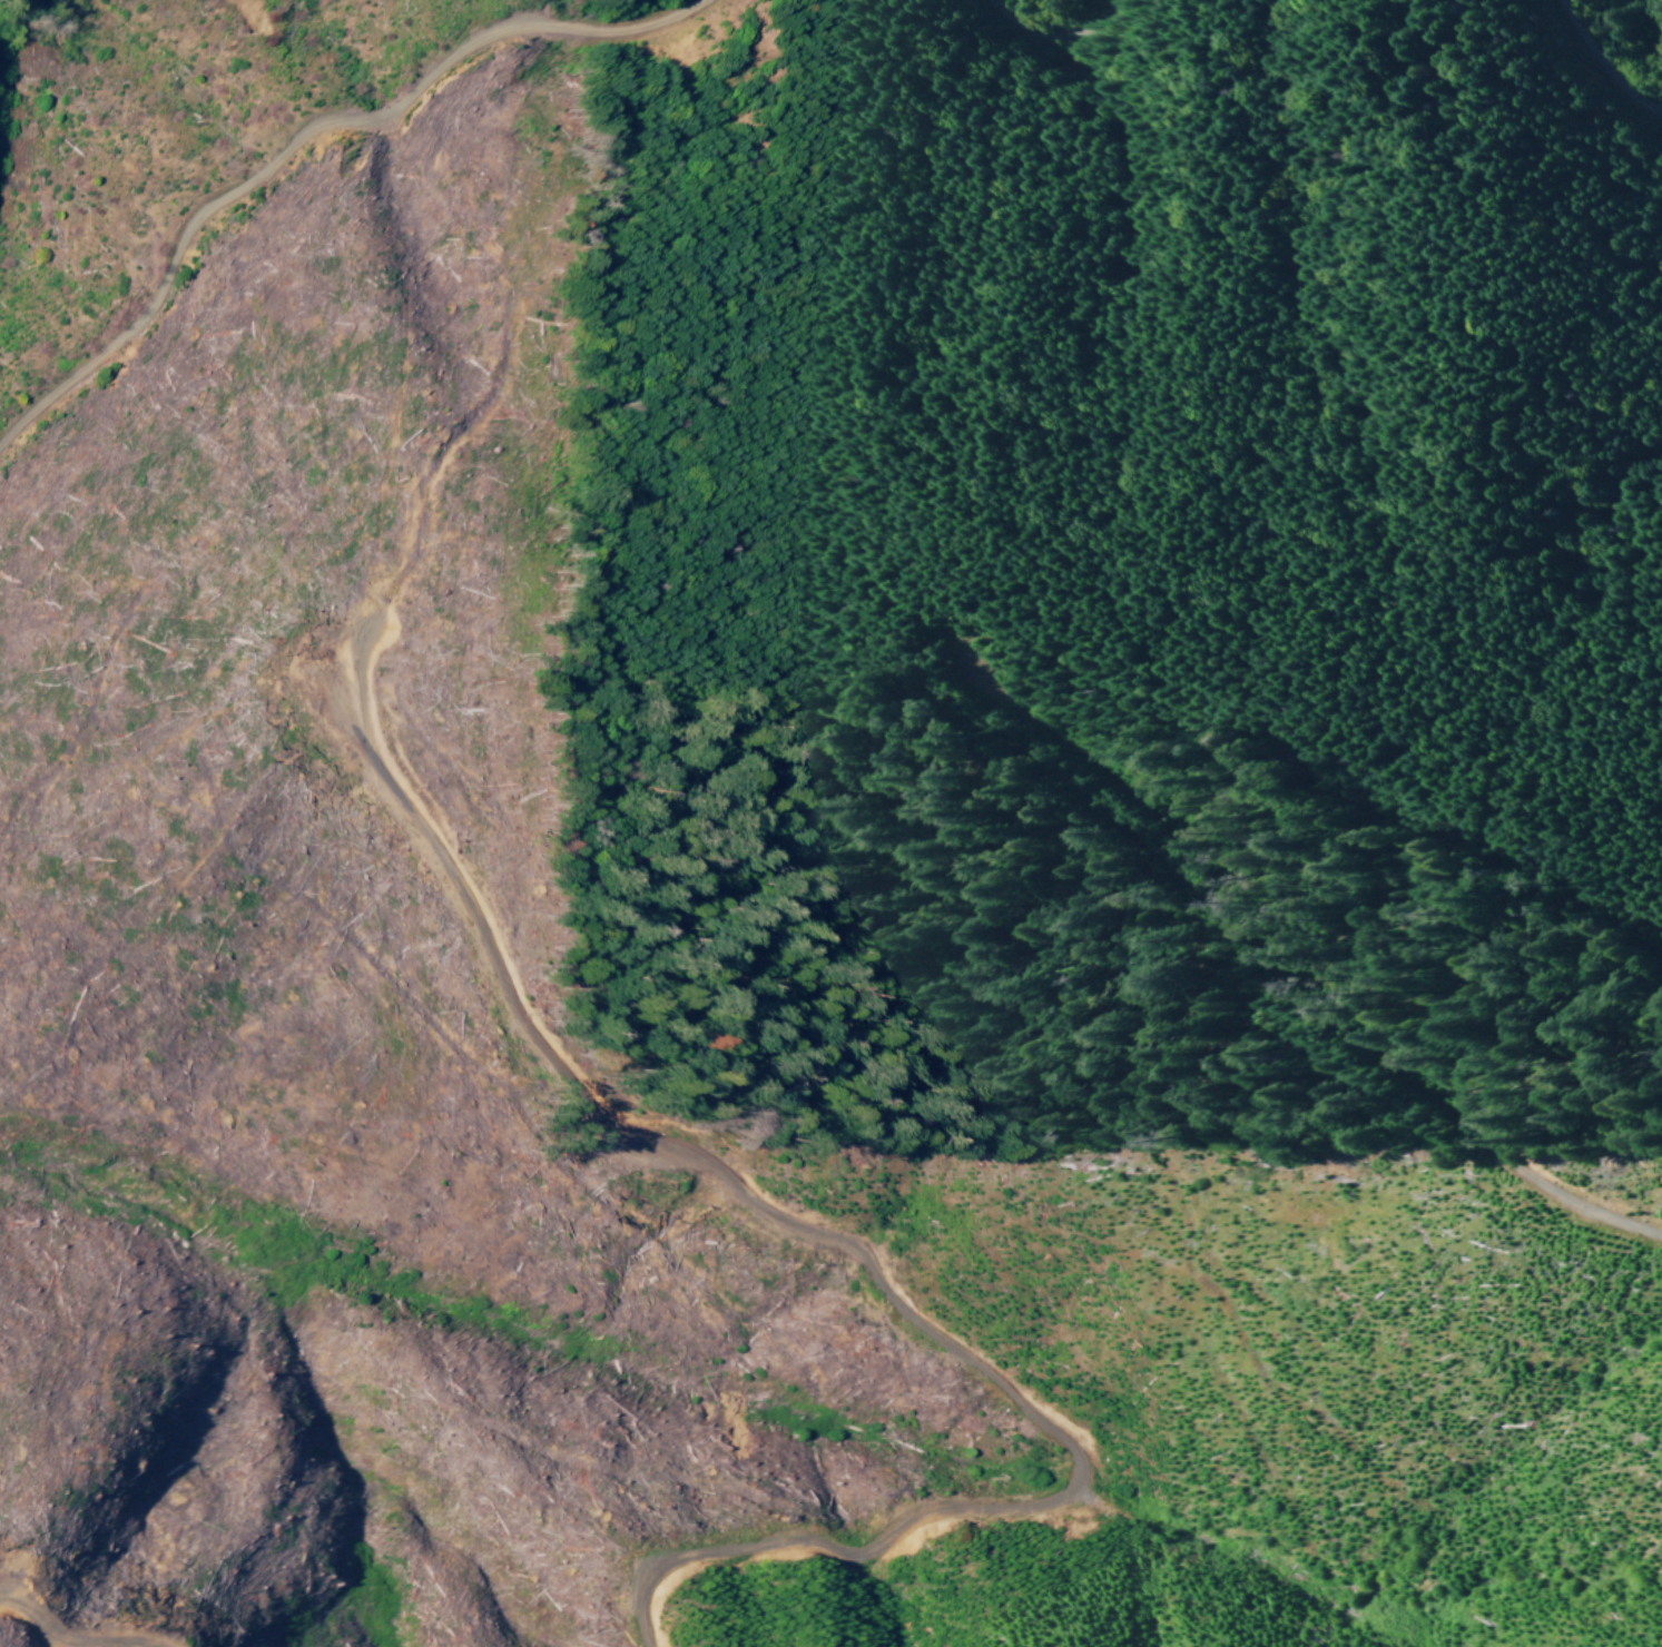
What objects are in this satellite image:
road: (1036, 38)
road: (1597, 66)
road: (294, 135)
road: (1301, 982)

